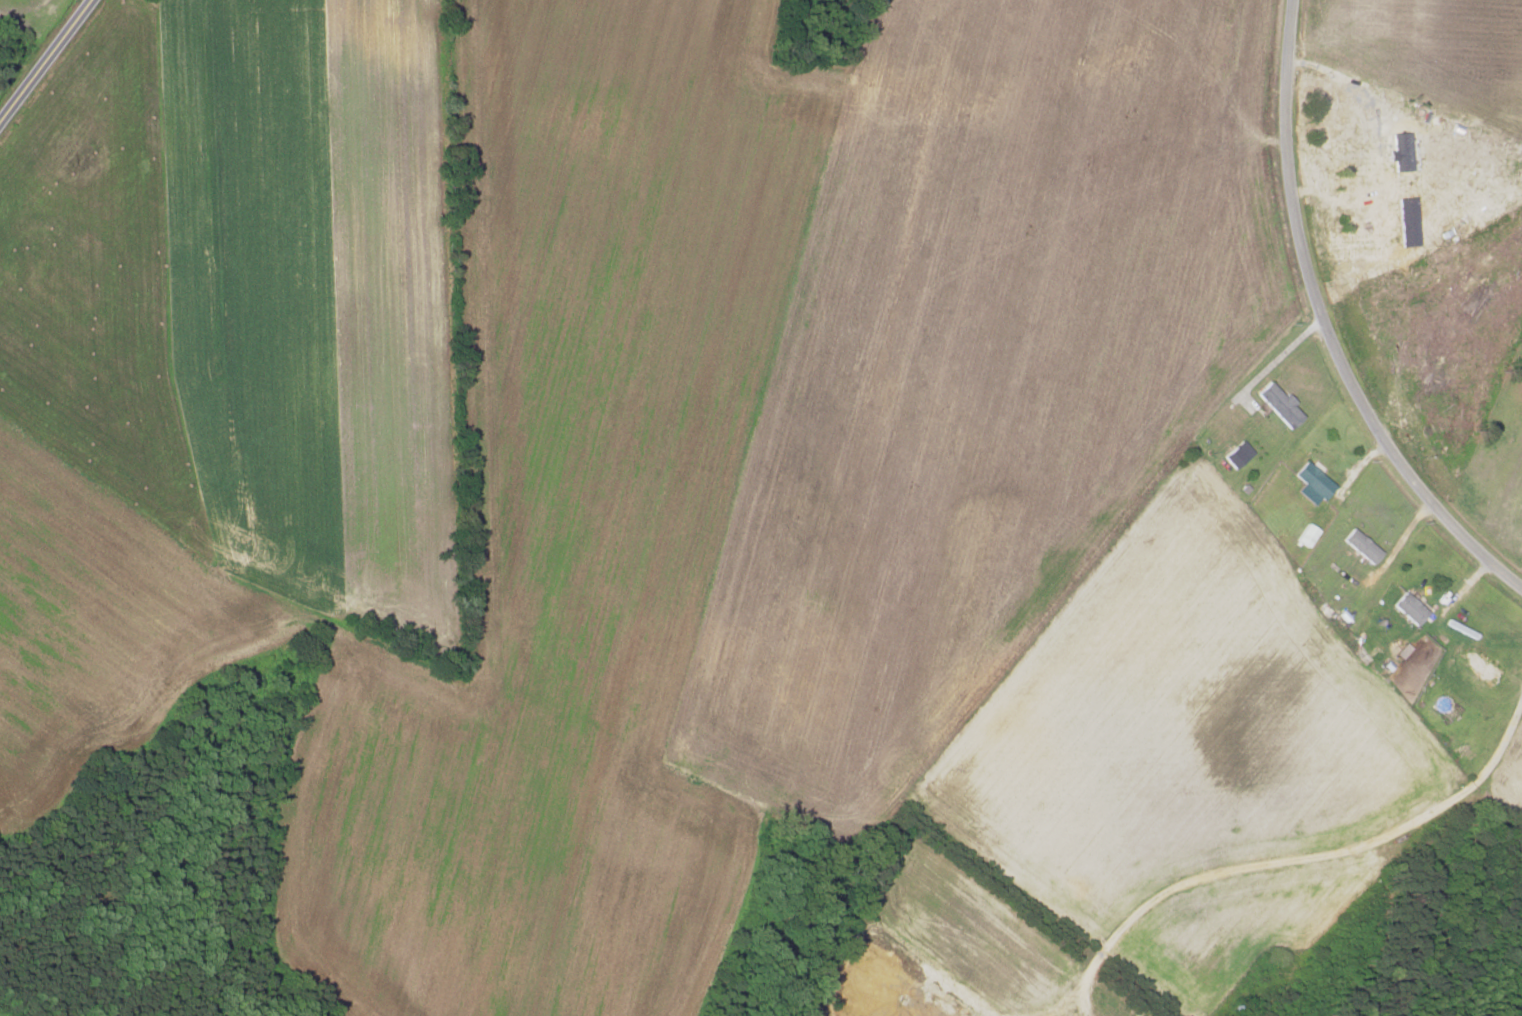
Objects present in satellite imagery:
road: (44, 60)
road: (1333, 331)
building: (1279, 404)
building: (1237, 454)
building: (1311, 483)
building: (1306, 534)
building: (1361, 545)
building: (1410, 608)
building: (1482, 667)

